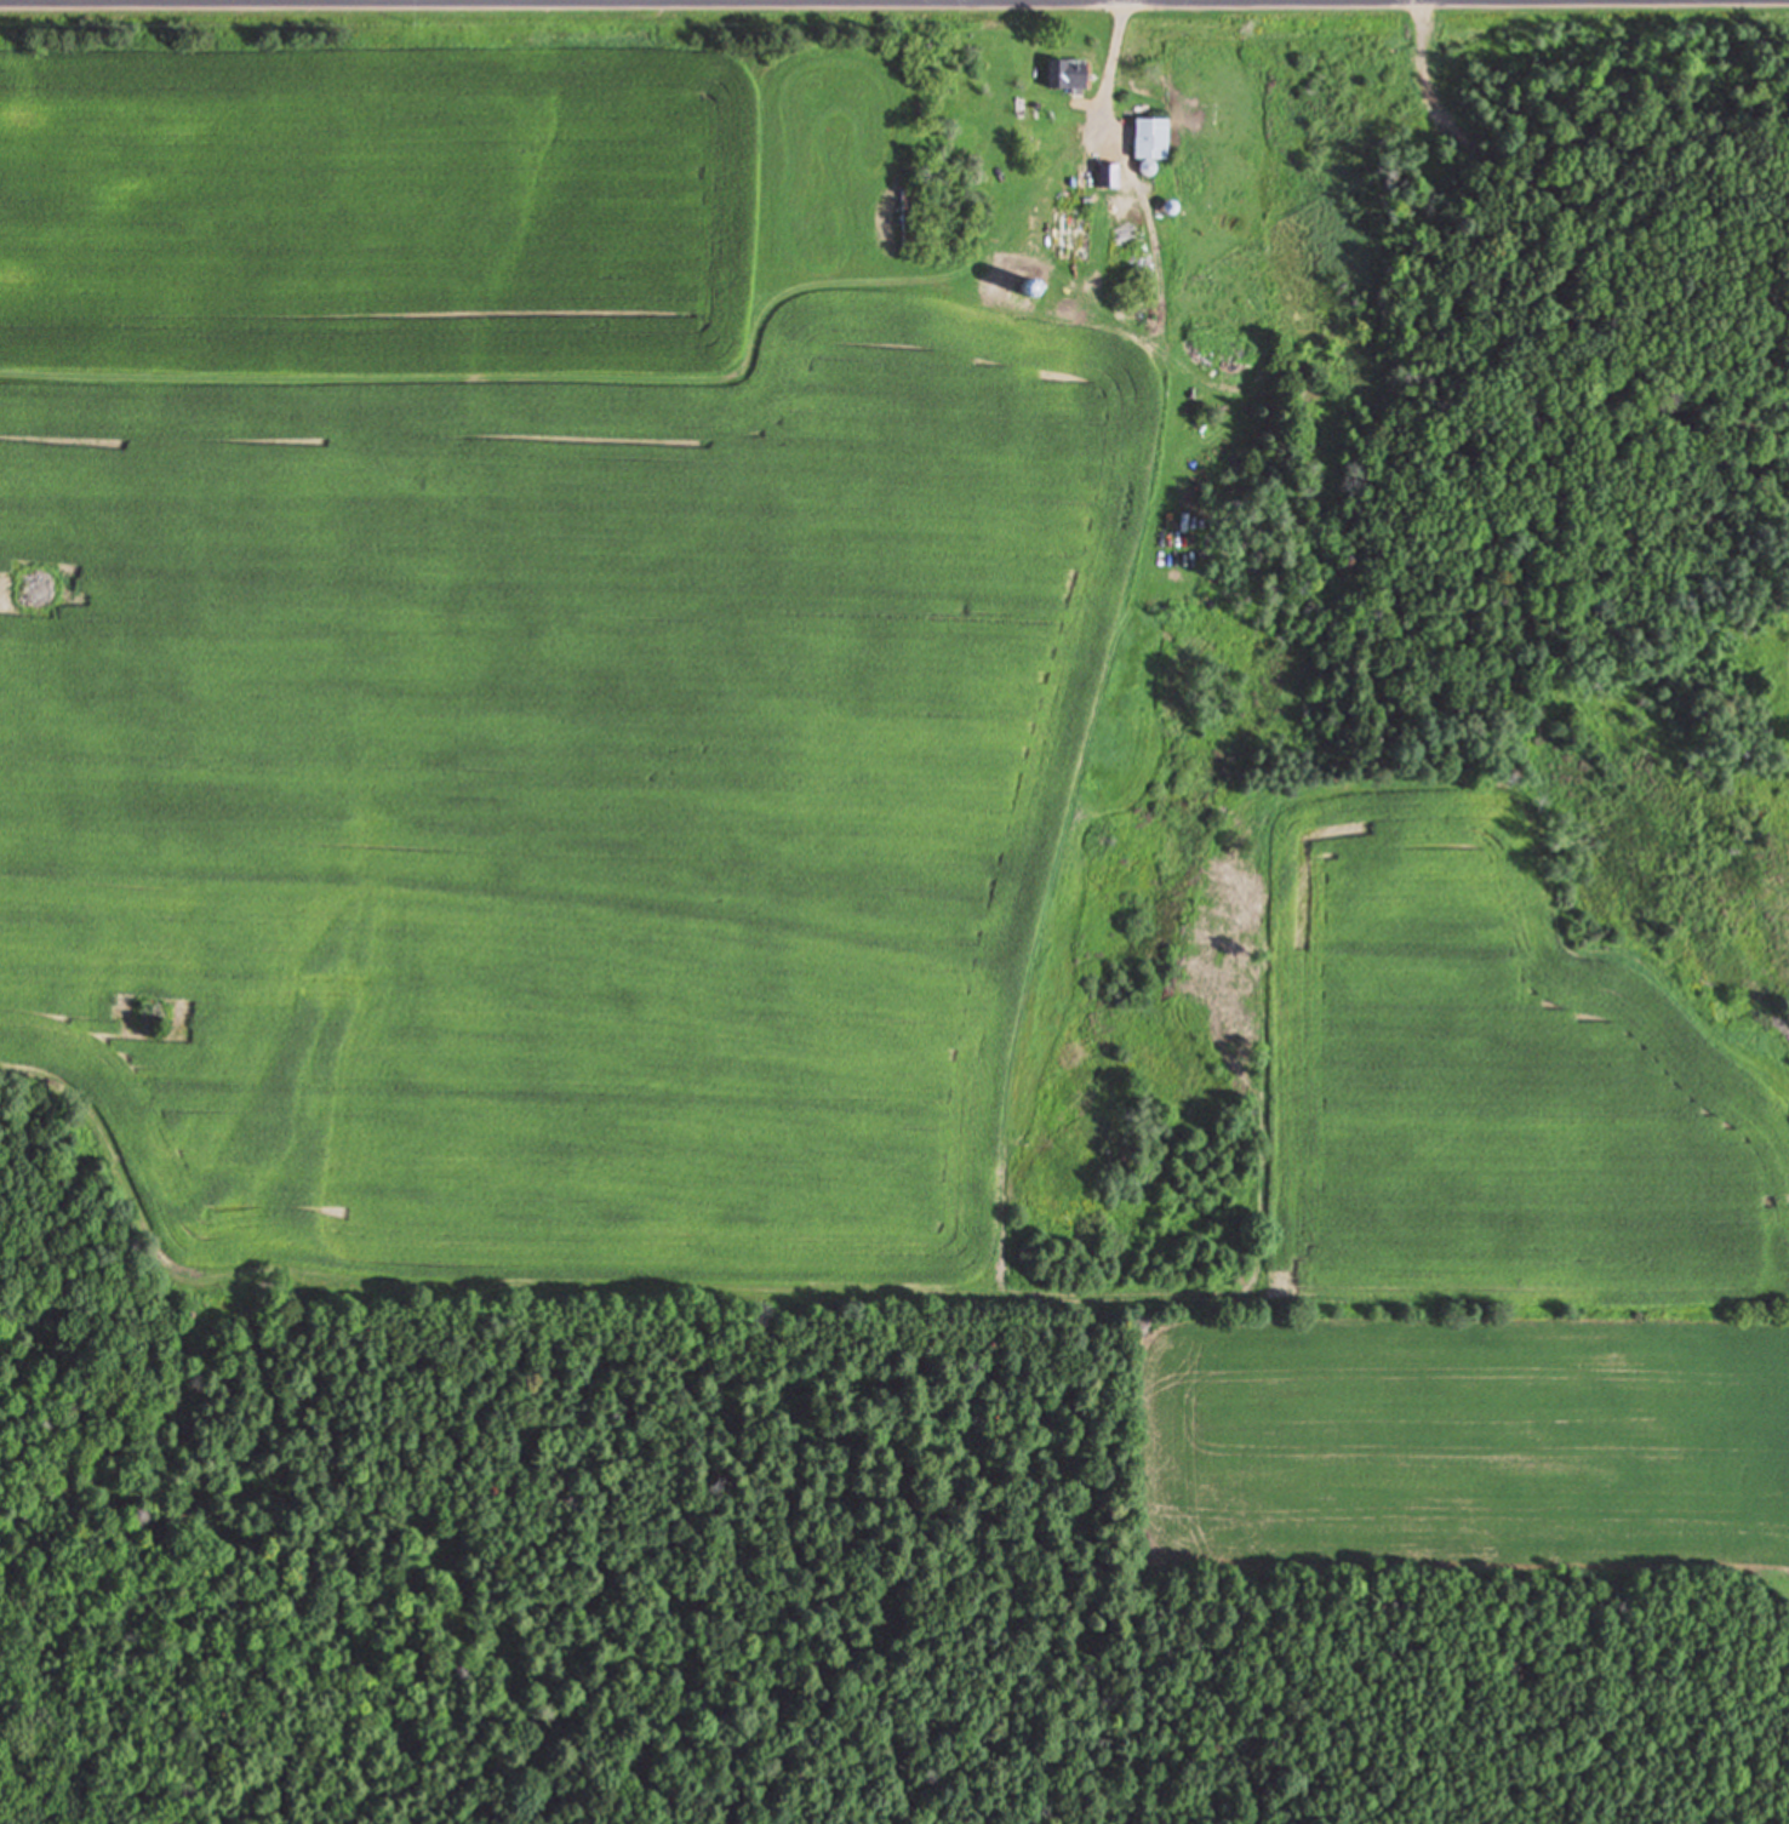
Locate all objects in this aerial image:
building: (1064, 75)
building: (1145, 141)
building: (1101, 177)

